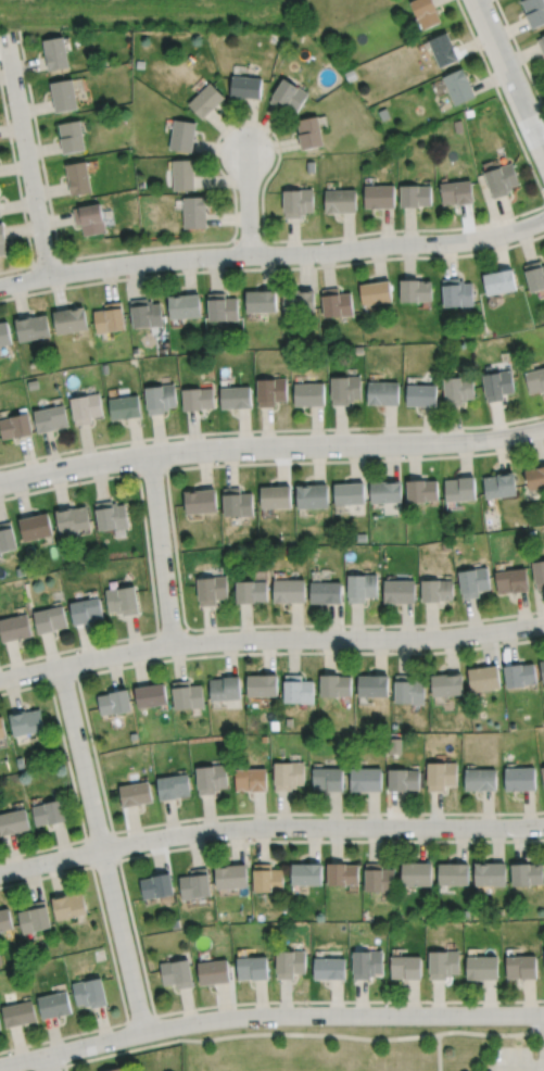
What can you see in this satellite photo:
building: (534, 11)
building: (425, 12)
crop: (152, 13)
building: (541, 43)
building: (443, 49)
building: (55, 53)
road: (509, 76)
building: (245, 86)
building: (458, 86)
building: (63, 96)
building: (288, 96)
building: (205, 100)
building: (309, 133)
building: (181, 135)
building: (71, 137)
road: (27, 154)
building: (182, 174)
building: (78, 178)
building: (501, 180)
building: (456, 192)
building: (415, 196)
building: (378, 197)
building: (340, 201)
road: (248, 202)
building: (296, 202)
building: (194, 213)
building: (0, 214)
building: (89, 219)
building: (2, 241)
road: (273, 254)
building: (534, 275)
building: (498, 282)
building: (415, 290)
building: (375, 293)
building: (456, 293)
building: (298, 301)
building: (261, 302)
building: (336, 303)
building: (184, 306)
building: (222, 307)
building: (146, 314)
building: (109, 318)
building: (69, 320)
building: (31, 328)
building: (4, 335)
building: (358, 349)
building: (31, 364)
building: (104, 368)
building: (535, 380)
building: (31, 385)
building: (497, 385)
building: (344, 389)
building: (456, 389)
building: (270, 391)
building: (382, 393)
building: (307, 394)
building: (420, 395)
building: (235, 396)
building: (159, 399)
building: (197, 400)
building: (124, 407)
building: (85, 408)
building: (50, 418)
building: (15, 426)
road: (270, 445)
building: (534, 478)
building: (499, 484)
building: (459, 488)
building: (421, 490)
building: (385, 491)
building: (349, 494)
building: (312, 495)
building: (275, 496)
building: (200, 501)
building: (237, 502)
building: (110, 515)
building: (72, 518)
building: (36, 526)
building: (7, 537)
road: (161, 549)
building: (537, 572)
building: (511, 580)
building: (472, 581)
building: (360, 587)
building: (212, 590)
building: (289, 590)
building: (437, 590)
building: (325, 591)
building: (398, 591)
building: (250, 592)
building: (122, 600)
building: (86, 612)
building: (50, 619)
building: (15, 628)
road: (358, 639)
road: (86, 659)
building: (542, 669)
building: (519, 675)
building: (483, 677)
building: (262, 683)
building: (446, 684)
building: (333, 685)
building: (372, 685)
building: (225, 688)
building: (298, 689)
building: (408, 689)
building: (150, 695)
building: (188, 696)
building: (114, 702)
building: (26, 721)
building: (1, 729)
building: (20, 760)
building: (288, 774)
building: (440, 774)
building: (542, 774)
building: (211, 779)
building: (250, 779)
building: (327, 779)
building: (365, 779)
building: (402, 779)
building: (480, 779)
building: (519, 779)
building: (174, 786)
building: (135, 794)
building: (48, 812)
building: (13, 822)
road: (321, 827)
road: (101, 848)
road: (50, 859)
building: (453, 872)
building: (306, 873)
building: (416, 873)
building: (490, 873)
building: (527, 873)
building: (341, 874)
building: (230, 875)
building: (267, 878)
building: (378, 878)
building: (194, 884)
building: (156, 885)
building: (68, 905)
building: (35, 917)
building: (5, 919)
building: (289, 962)
building: (365, 963)
building: (443, 963)
building: (405, 967)
building: (482, 967)
building: (520, 967)
building: (251, 968)
building: (329, 968)
building: (213, 971)
building: (176, 973)
building: (89, 992)
building: (54, 1005)
building: (18, 1012)
road: (342, 1015)
building: (0, 1026)
road: (471, 1032)
road: (249, 1033)
park: (366, 1047)
road: (72, 1049)
parking lot: (515, 1059)
road: (50, 1063)
park: (333, 1068)
building: (116, 1070)
road: (519, 1070)

